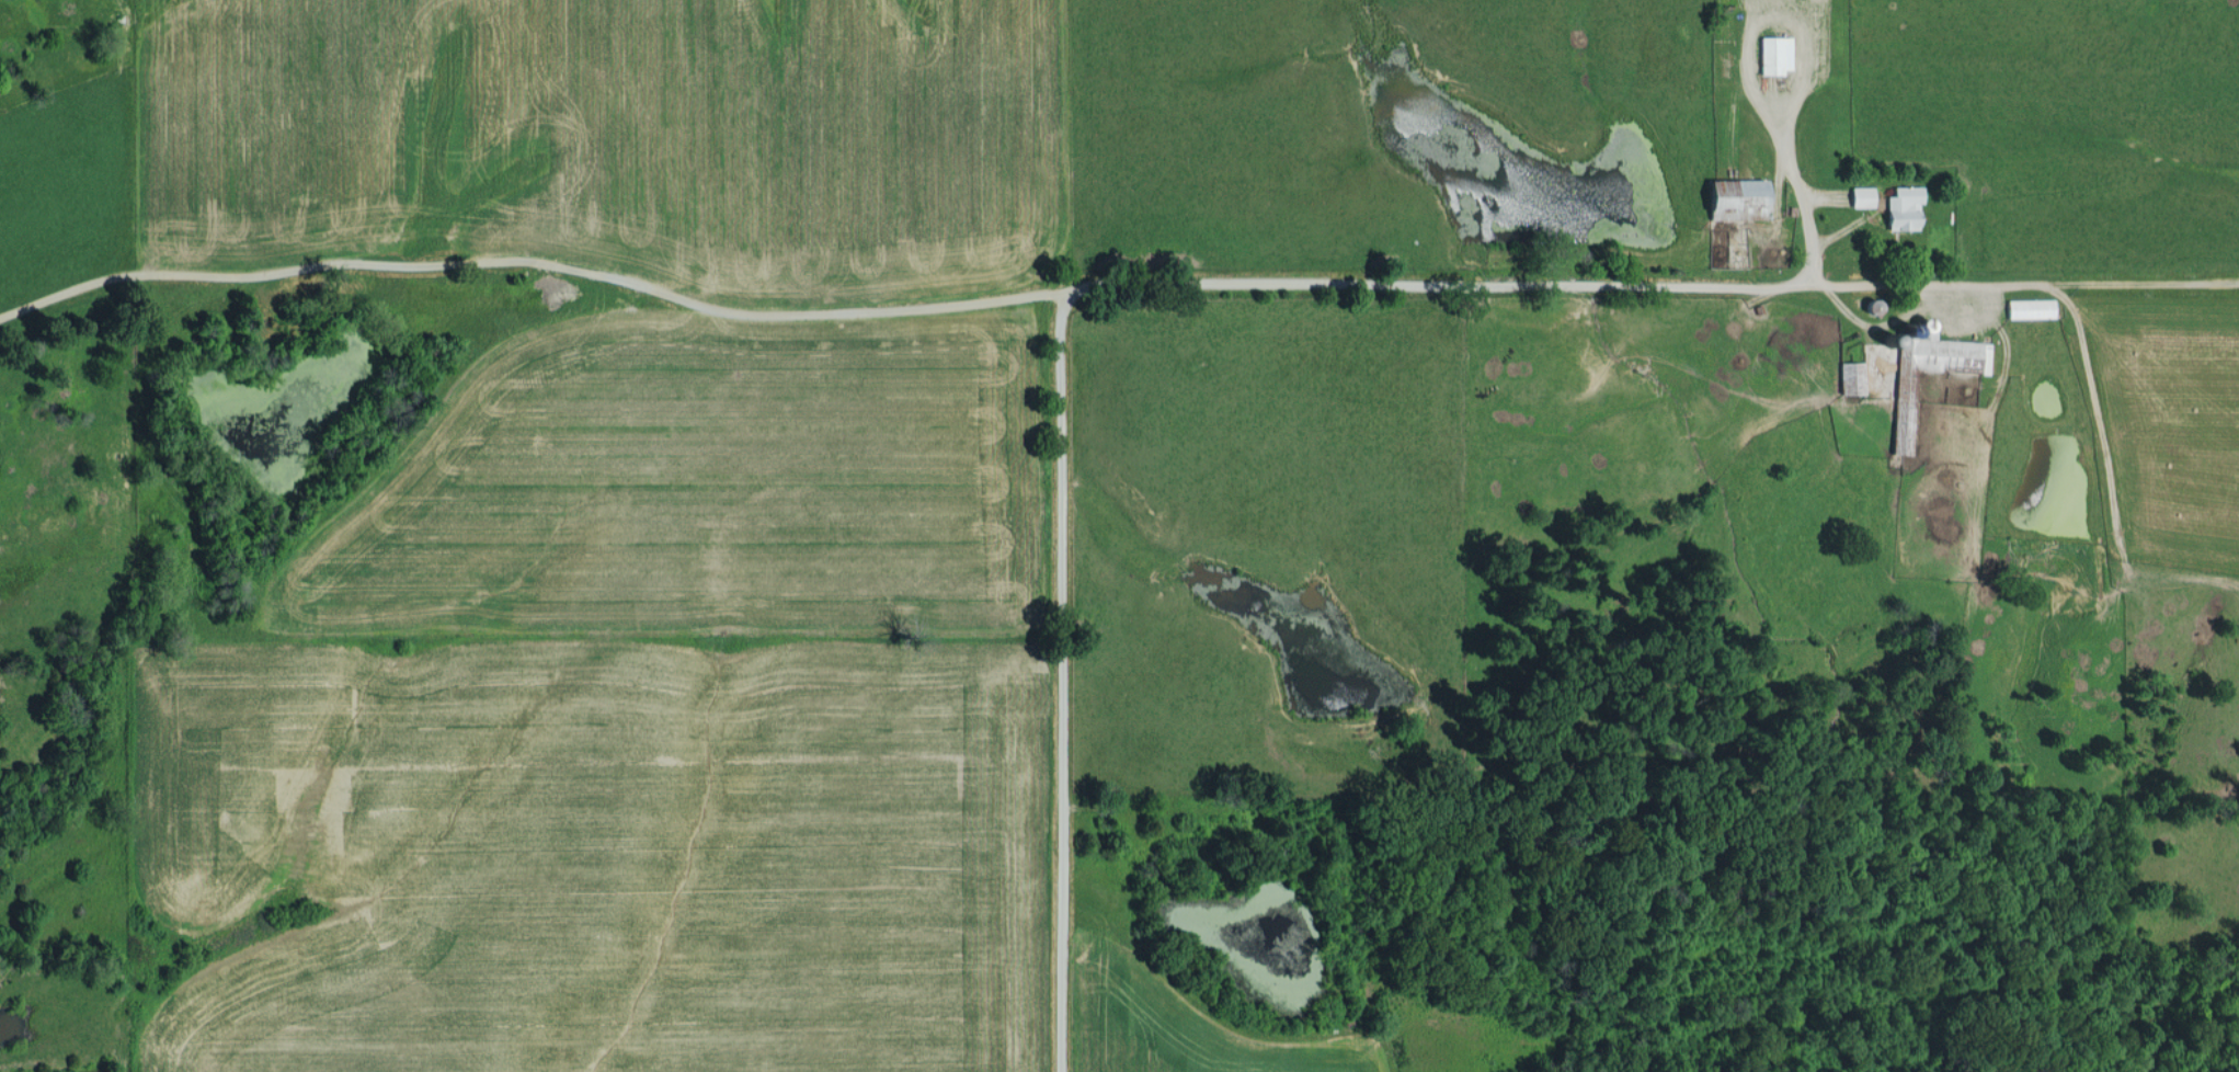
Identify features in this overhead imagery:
building: (1775, 54)
building: (1862, 196)
building: (1737, 198)
building: (1904, 207)
road: (1174, 281)
building: (2030, 308)
building: (1852, 377)

